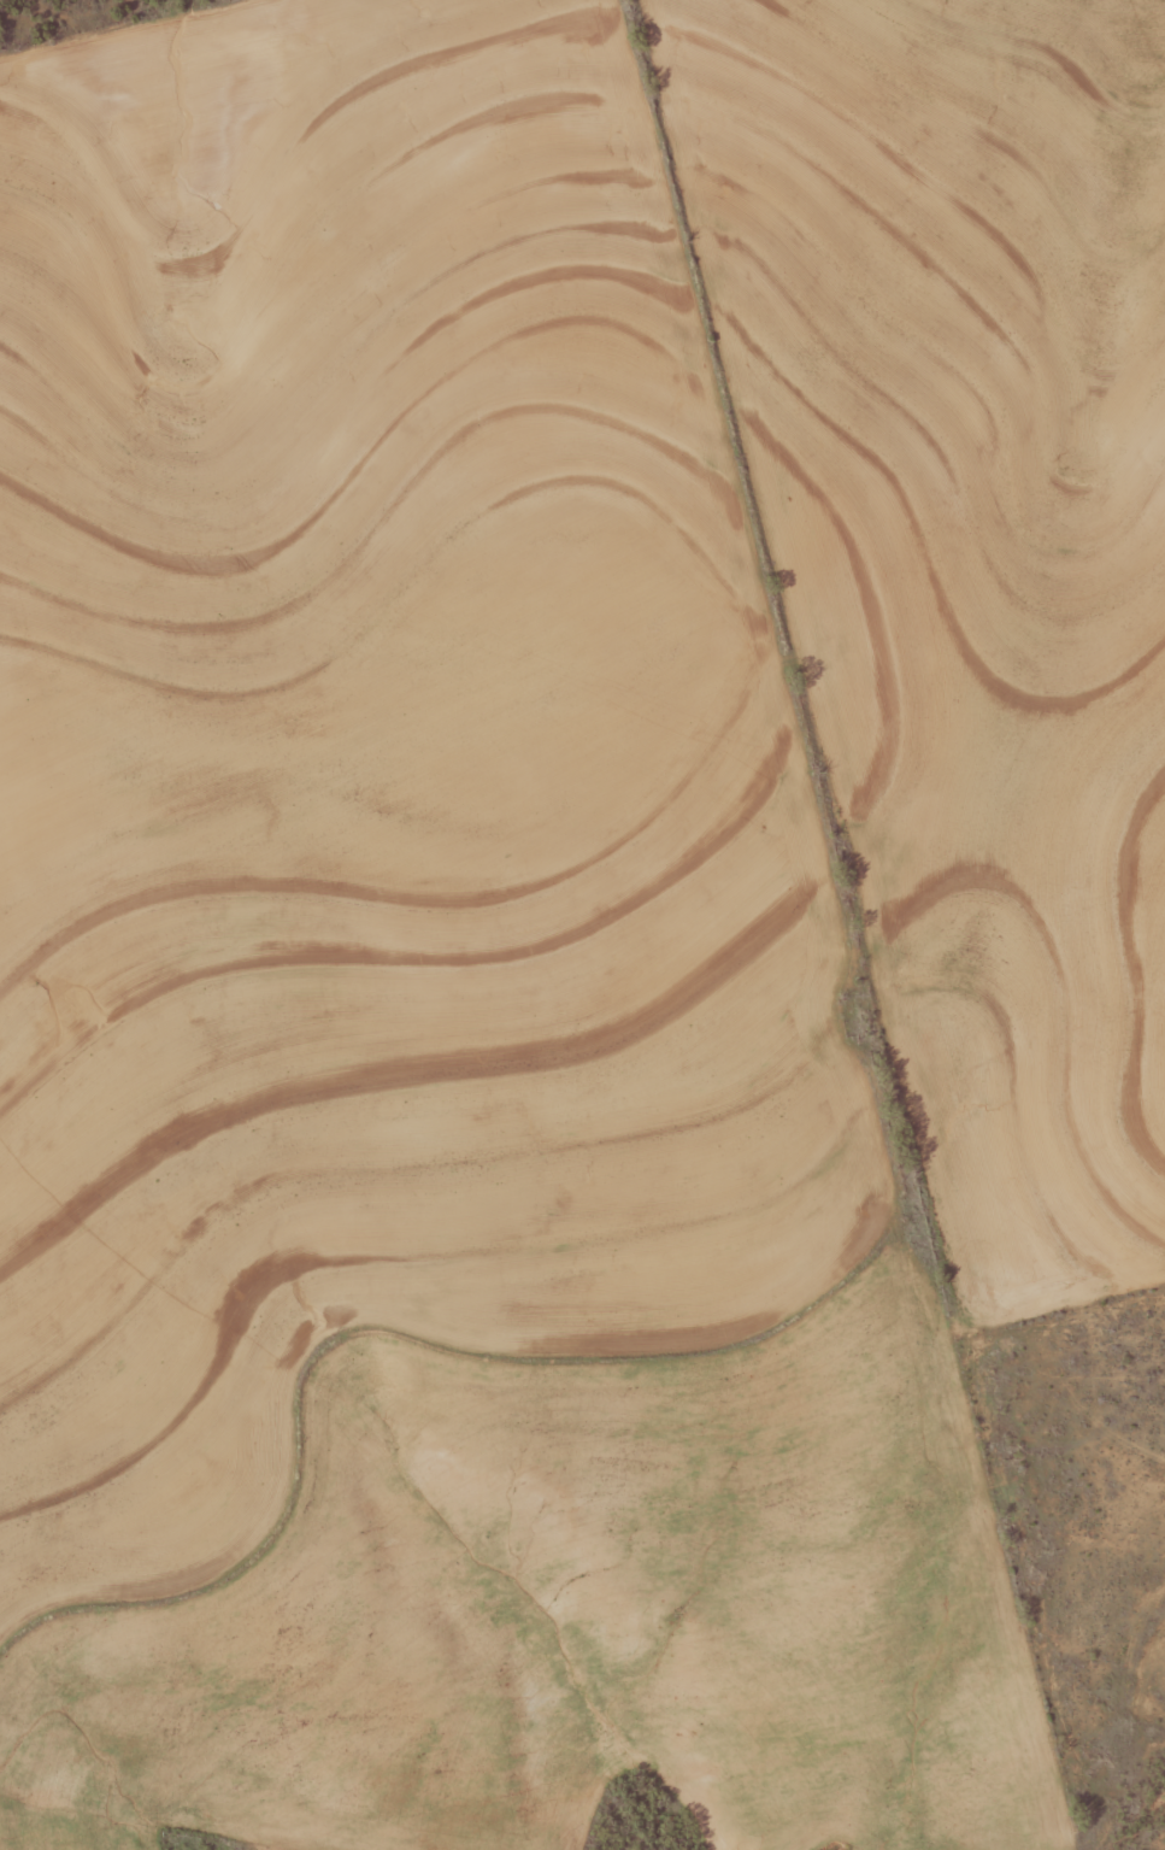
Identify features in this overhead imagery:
road: (128, 31)
road: (892, 1522)

